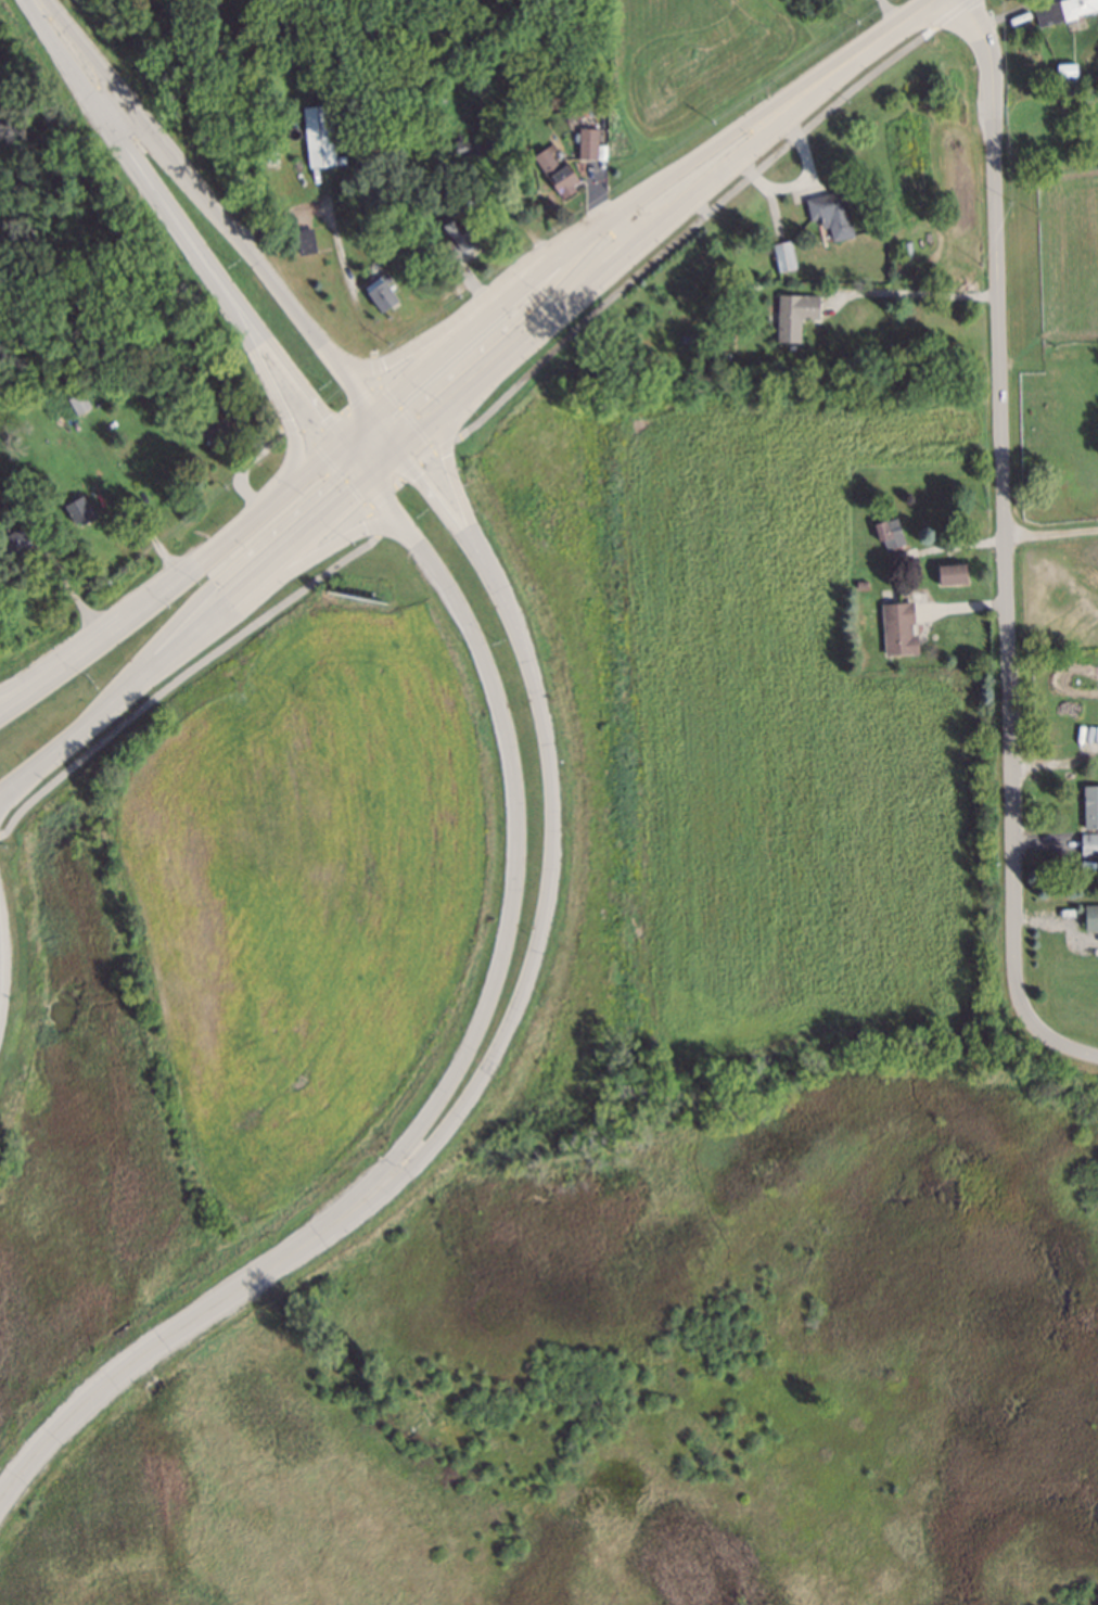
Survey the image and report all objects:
road: (930, 8)
building: (1060, 10)
road: (899, 11)
building: (1029, 29)
crop: (698, 58)
building: (1064, 67)
building: (570, 112)
building: (290, 128)
building: (321, 135)
building: (586, 137)
building: (475, 144)
building: (420, 145)
building: (554, 169)
road: (637, 201)
road: (213, 204)
road: (509, 208)
road: (316, 209)
building: (829, 211)
road: (173, 221)
road: (663, 232)
building: (458, 234)
building: (302, 238)
building: (781, 254)
building: (379, 292)
road: (917, 296)
road: (470, 305)
building: (792, 307)
road: (500, 335)
building: (687, 339)
building: (149, 373)
building: (135, 379)
road: (276, 393)
building: (76, 396)
traffic signals: (373, 409)
building: (220, 418)
road: (382, 420)
road: (477, 423)
road: (352, 426)
road: (368, 441)
road: (400, 441)
traffic signals: (331, 444)
traffic signals: (409, 450)
road: (340, 456)
road: (371, 457)
road: (387, 469)
road: (357, 479)
road: (456, 486)
traffic signals: (366, 488)
building: (1, 496)
building: (77, 505)
road: (1052, 531)
building: (889, 532)
road: (148, 535)
building: (15, 540)
road: (1007, 546)
building: (912, 570)
building: (950, 573)
road: (62, 579)
road: (170, 581)
road: (214, 583)
building: (858, 584)
road: (271, 588)
building: (896, 626)
road: (183, 645)
road: (18, 687)
crop: (768, 764)
building: (1090, 800)
road: (553, 835)
road: (507, 839)
building: (1088, 841)
crop: (304, 890)
building: (1089, 913)
road: (169, 1337)

